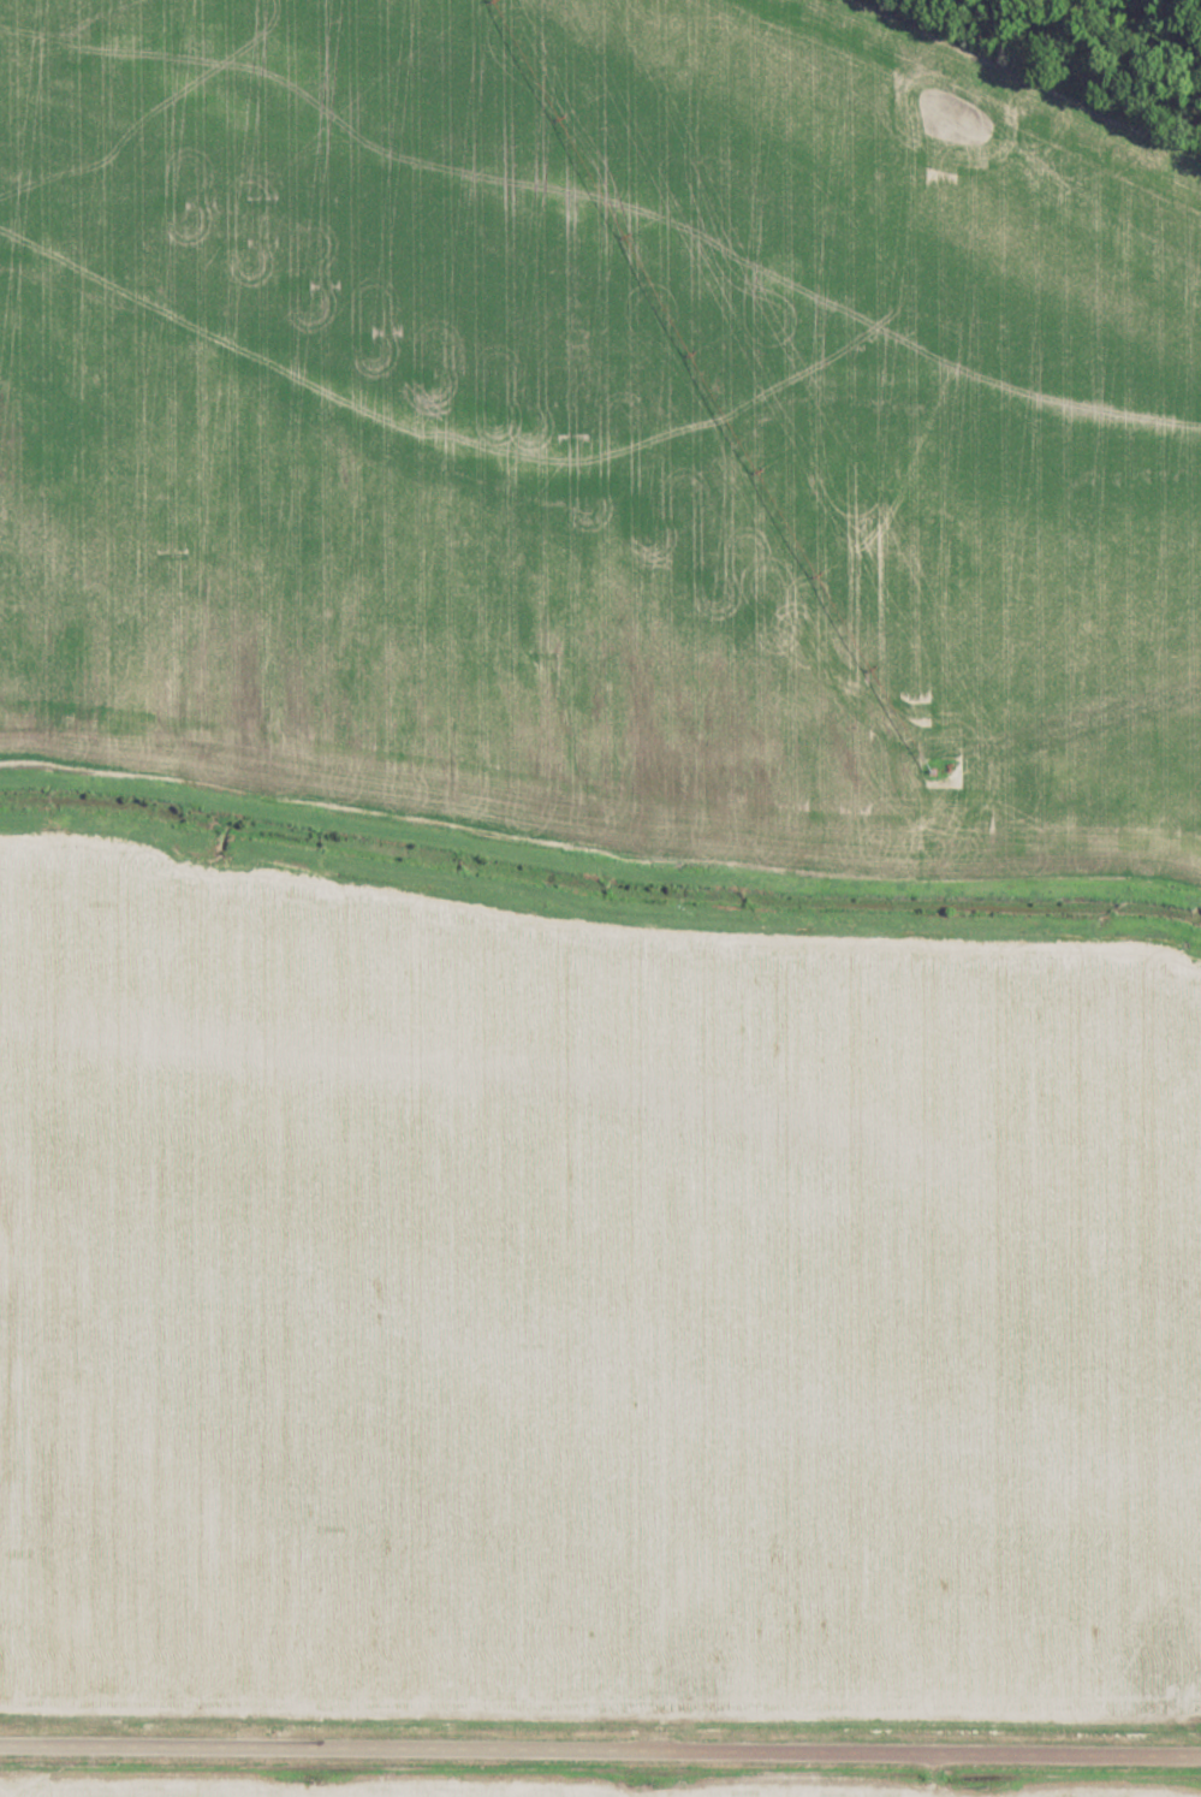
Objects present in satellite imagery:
road: (600, 1749)

